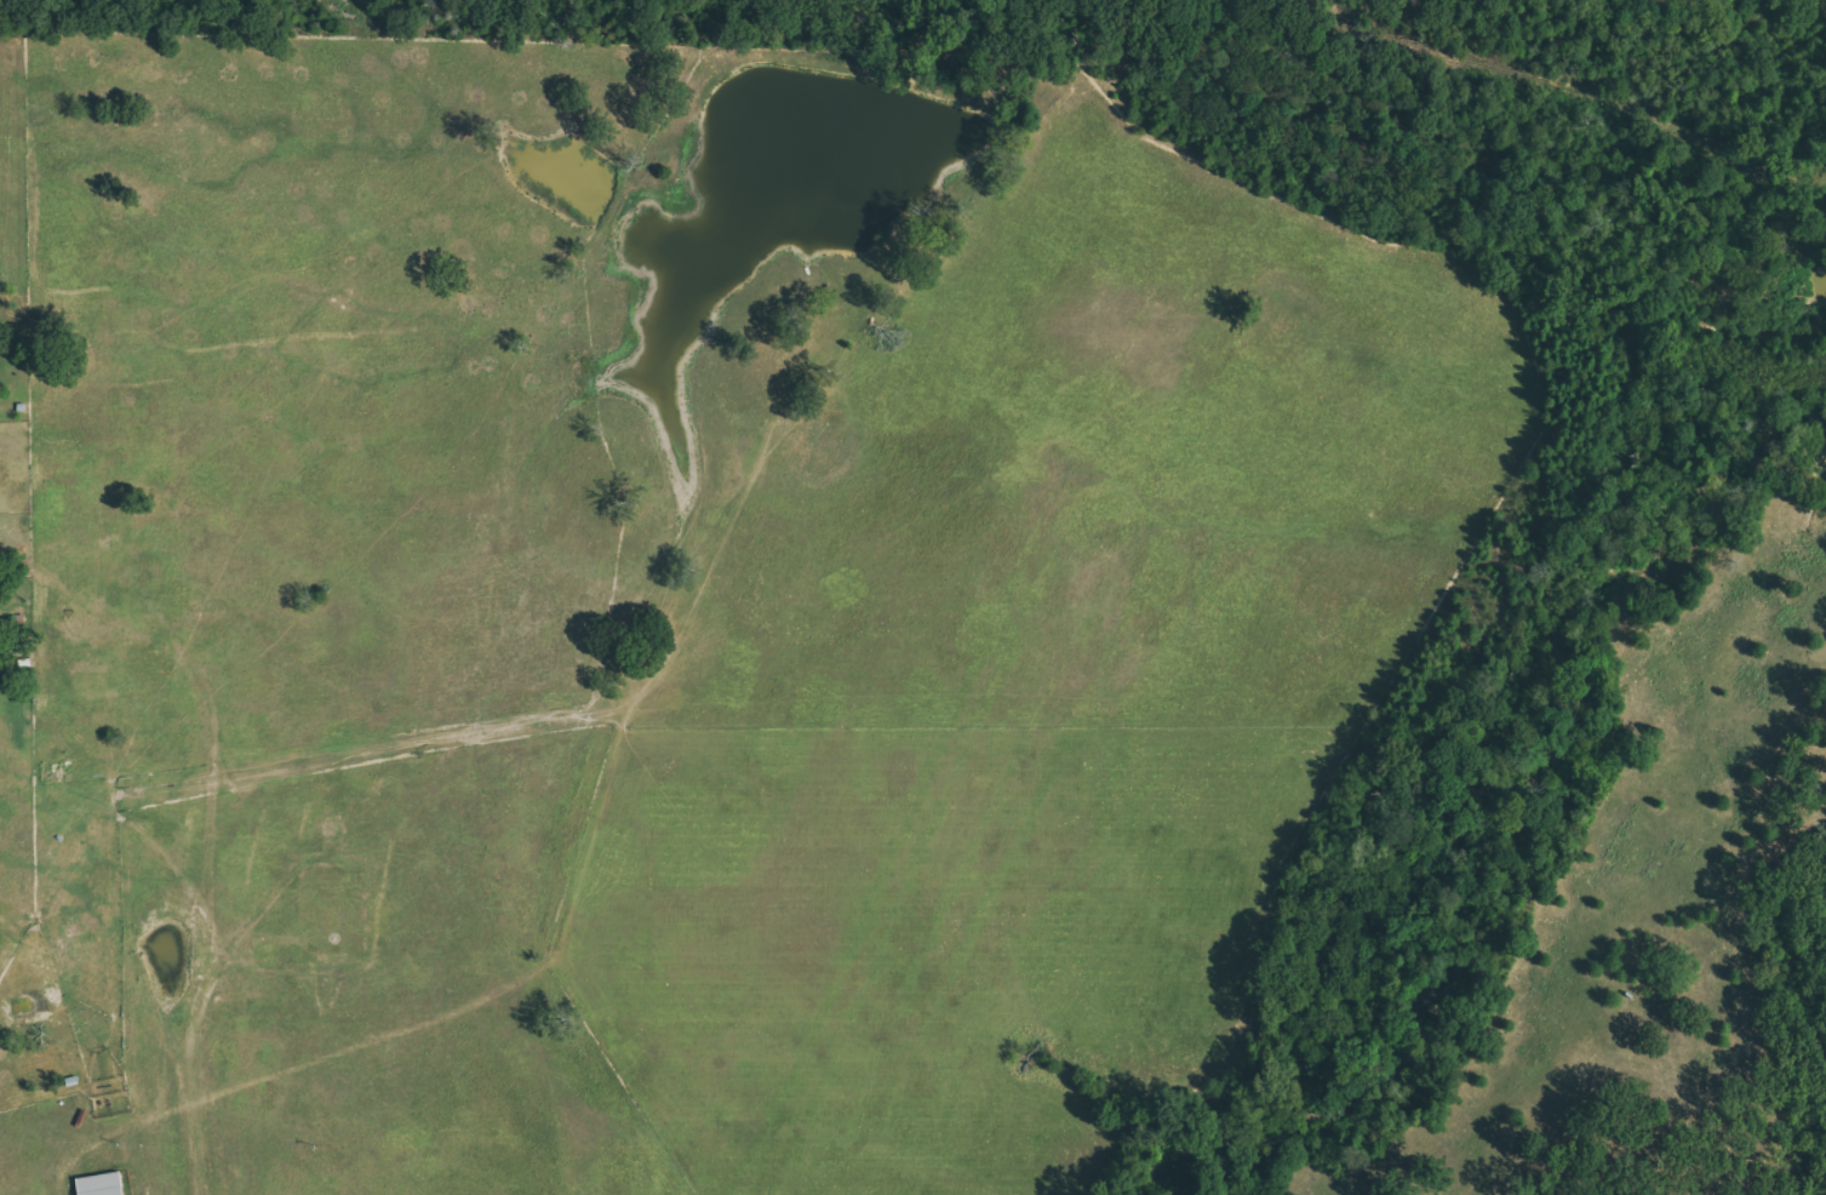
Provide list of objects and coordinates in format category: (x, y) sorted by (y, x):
building: (0, 651)
building: (101, 1184)

